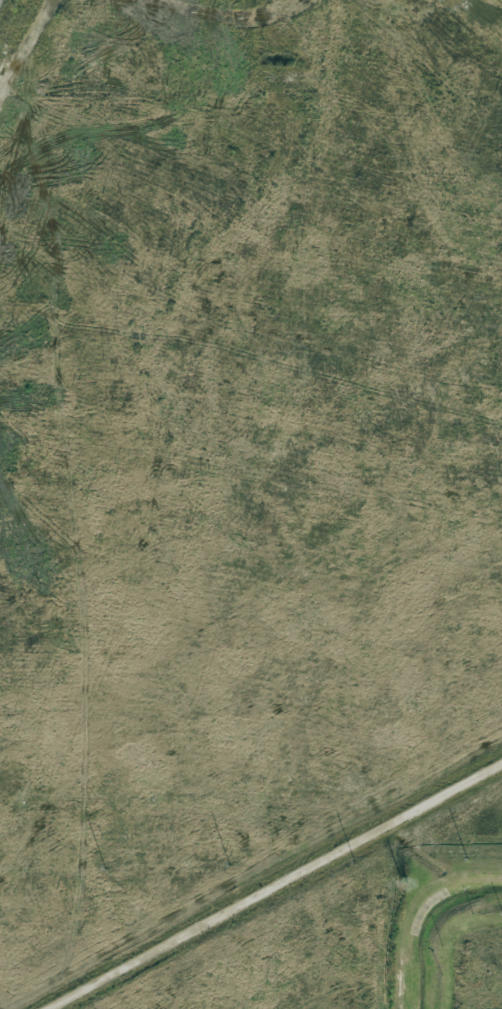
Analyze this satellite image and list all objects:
road: (268, 882)

